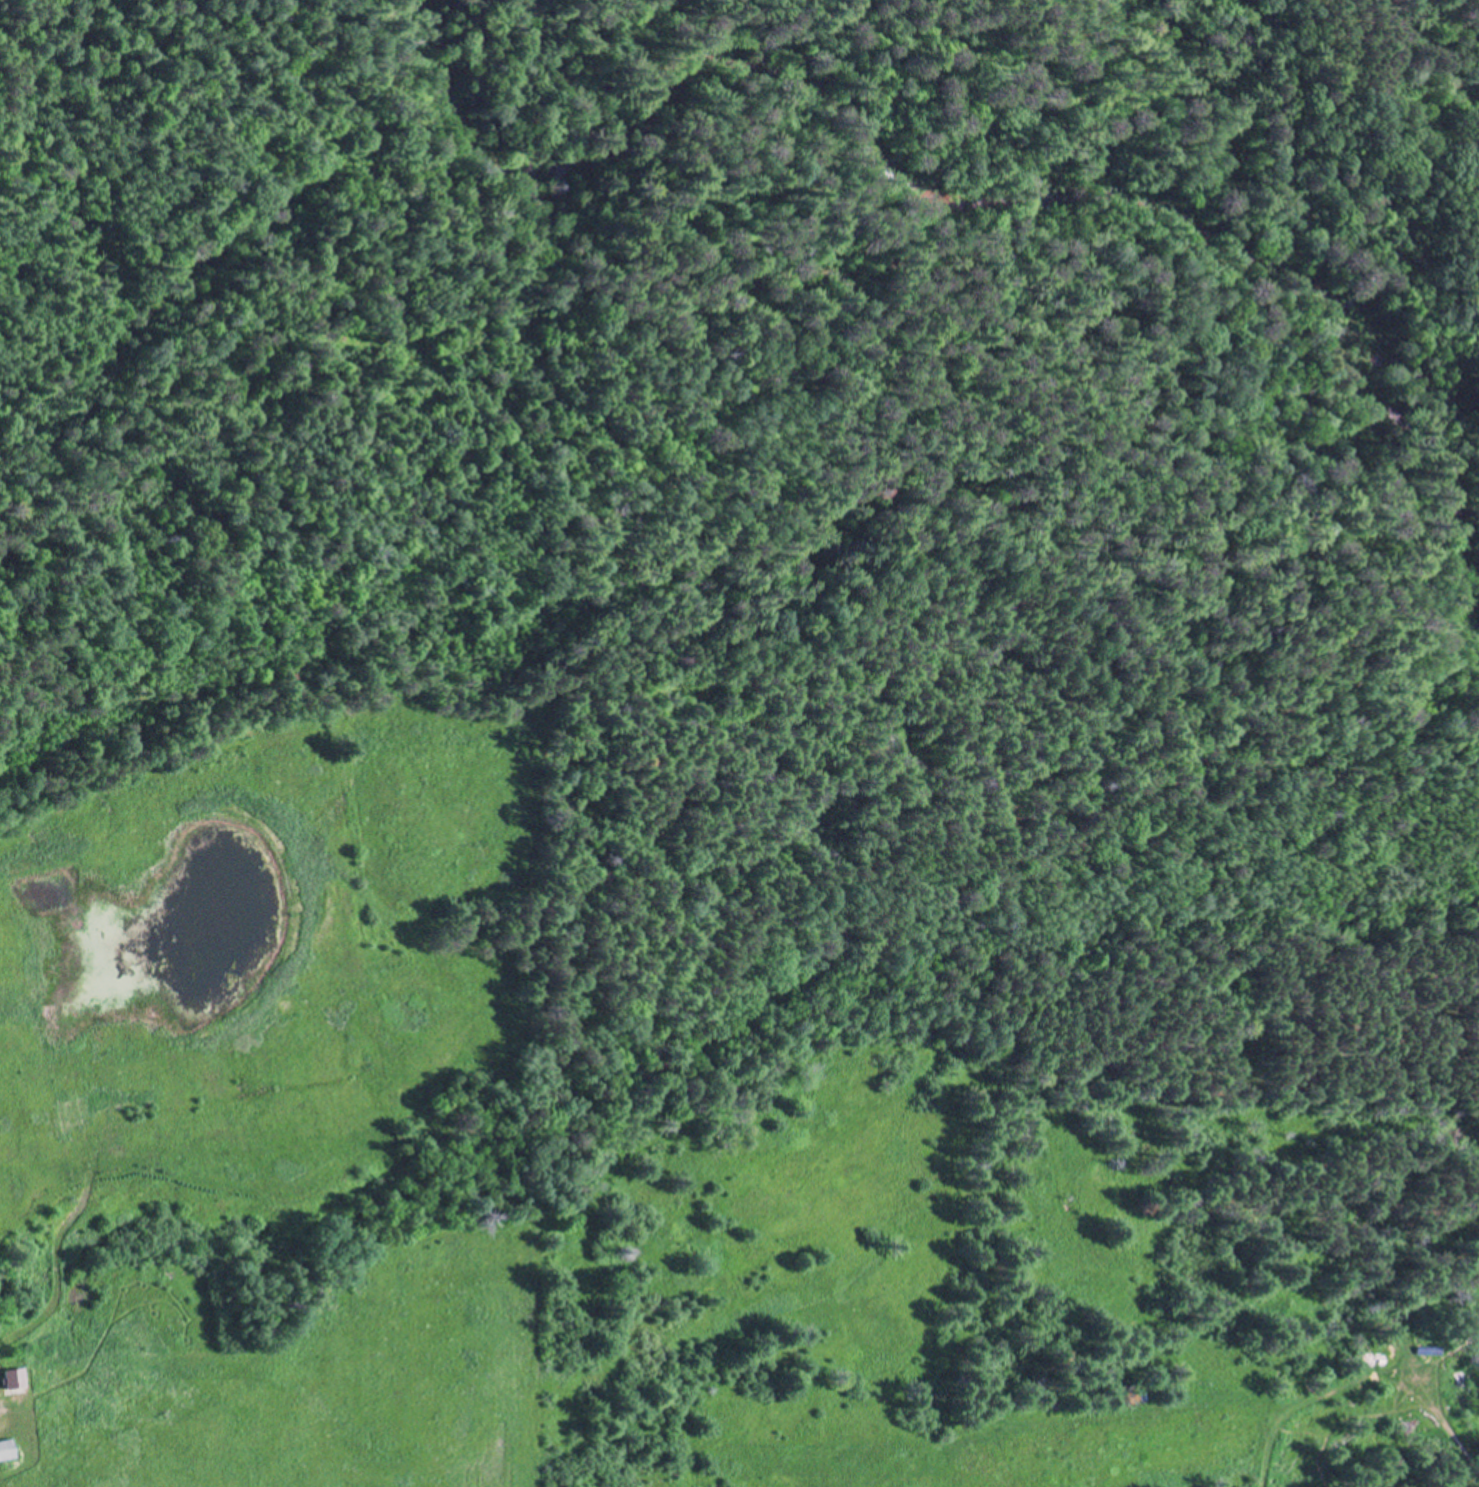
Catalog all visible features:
building: (6, 1362)
building: (13, 1378)
building: (6, 1449)

